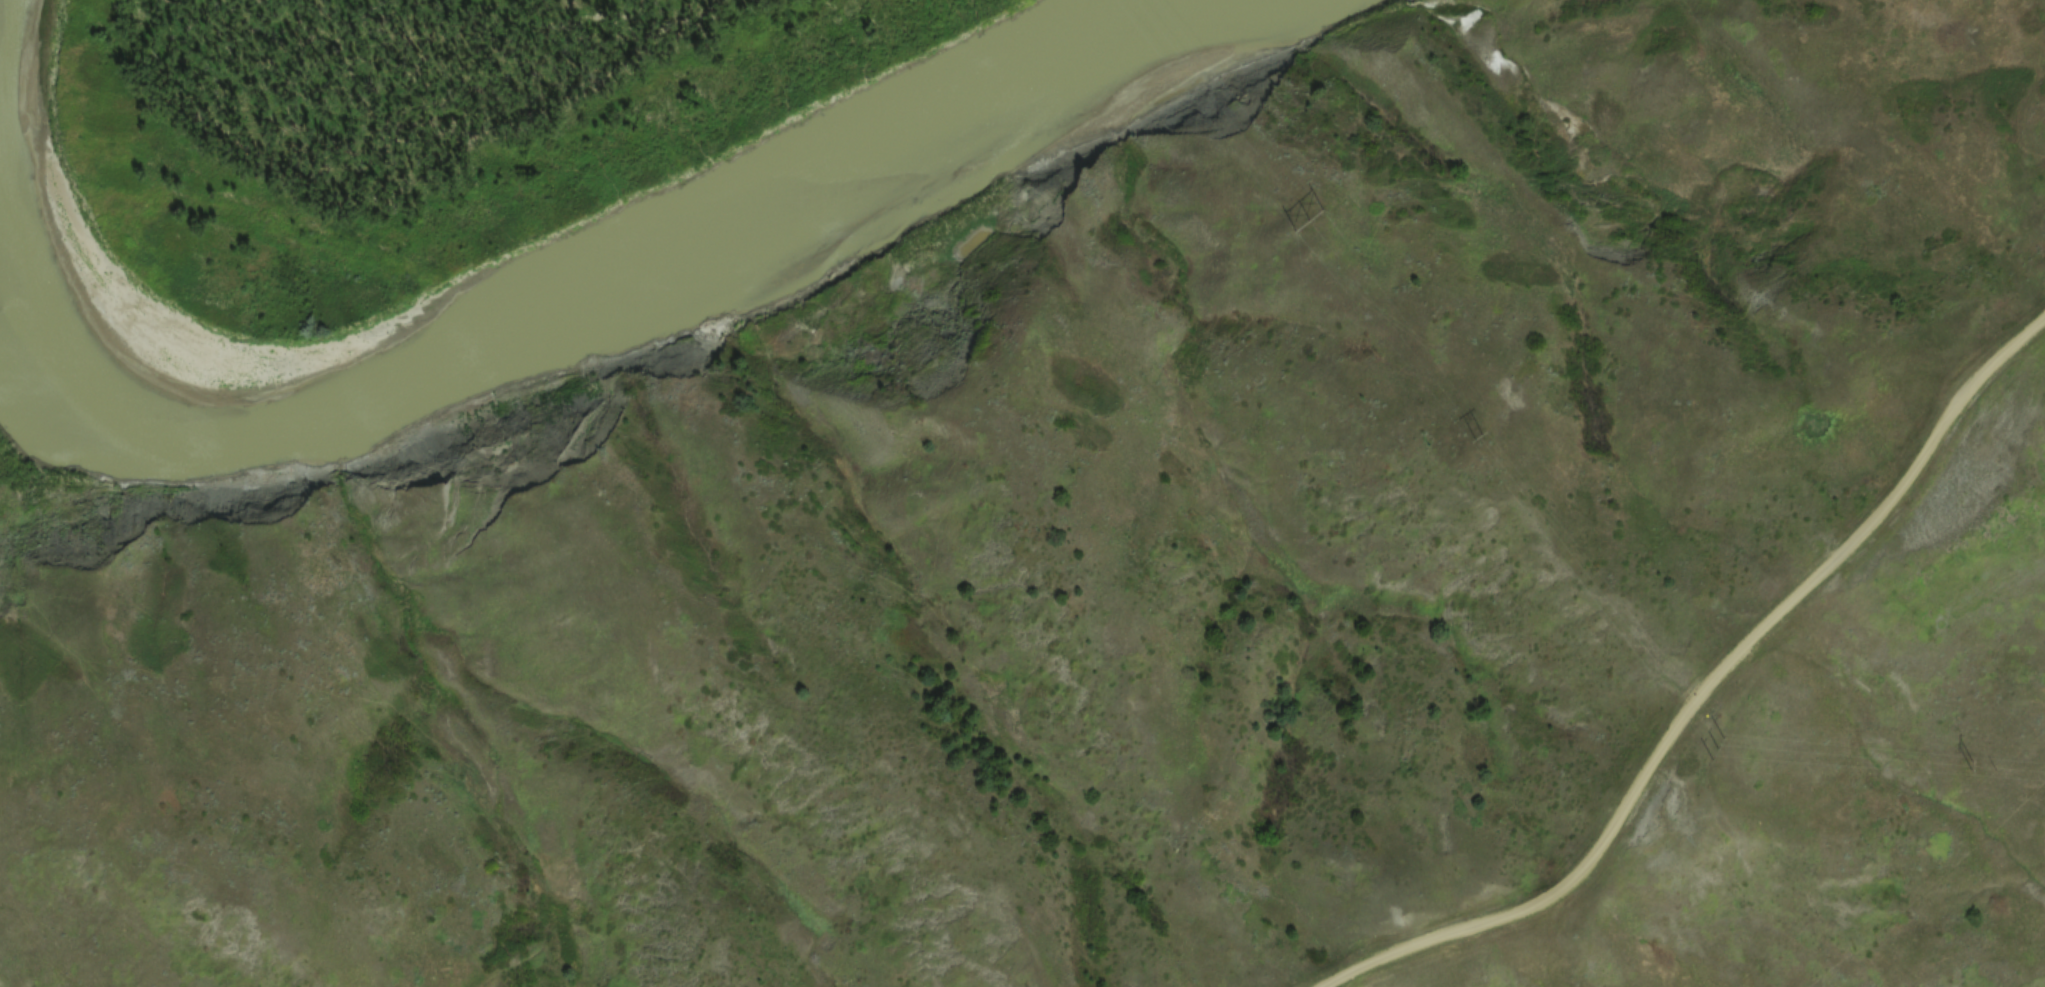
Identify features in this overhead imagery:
power tower: (1317, 223)
river: (581, 302)
power tower: (1481, 440)
road: (1712, 687)
power tower: (1714, 750)
power tower: (1938, 766)

